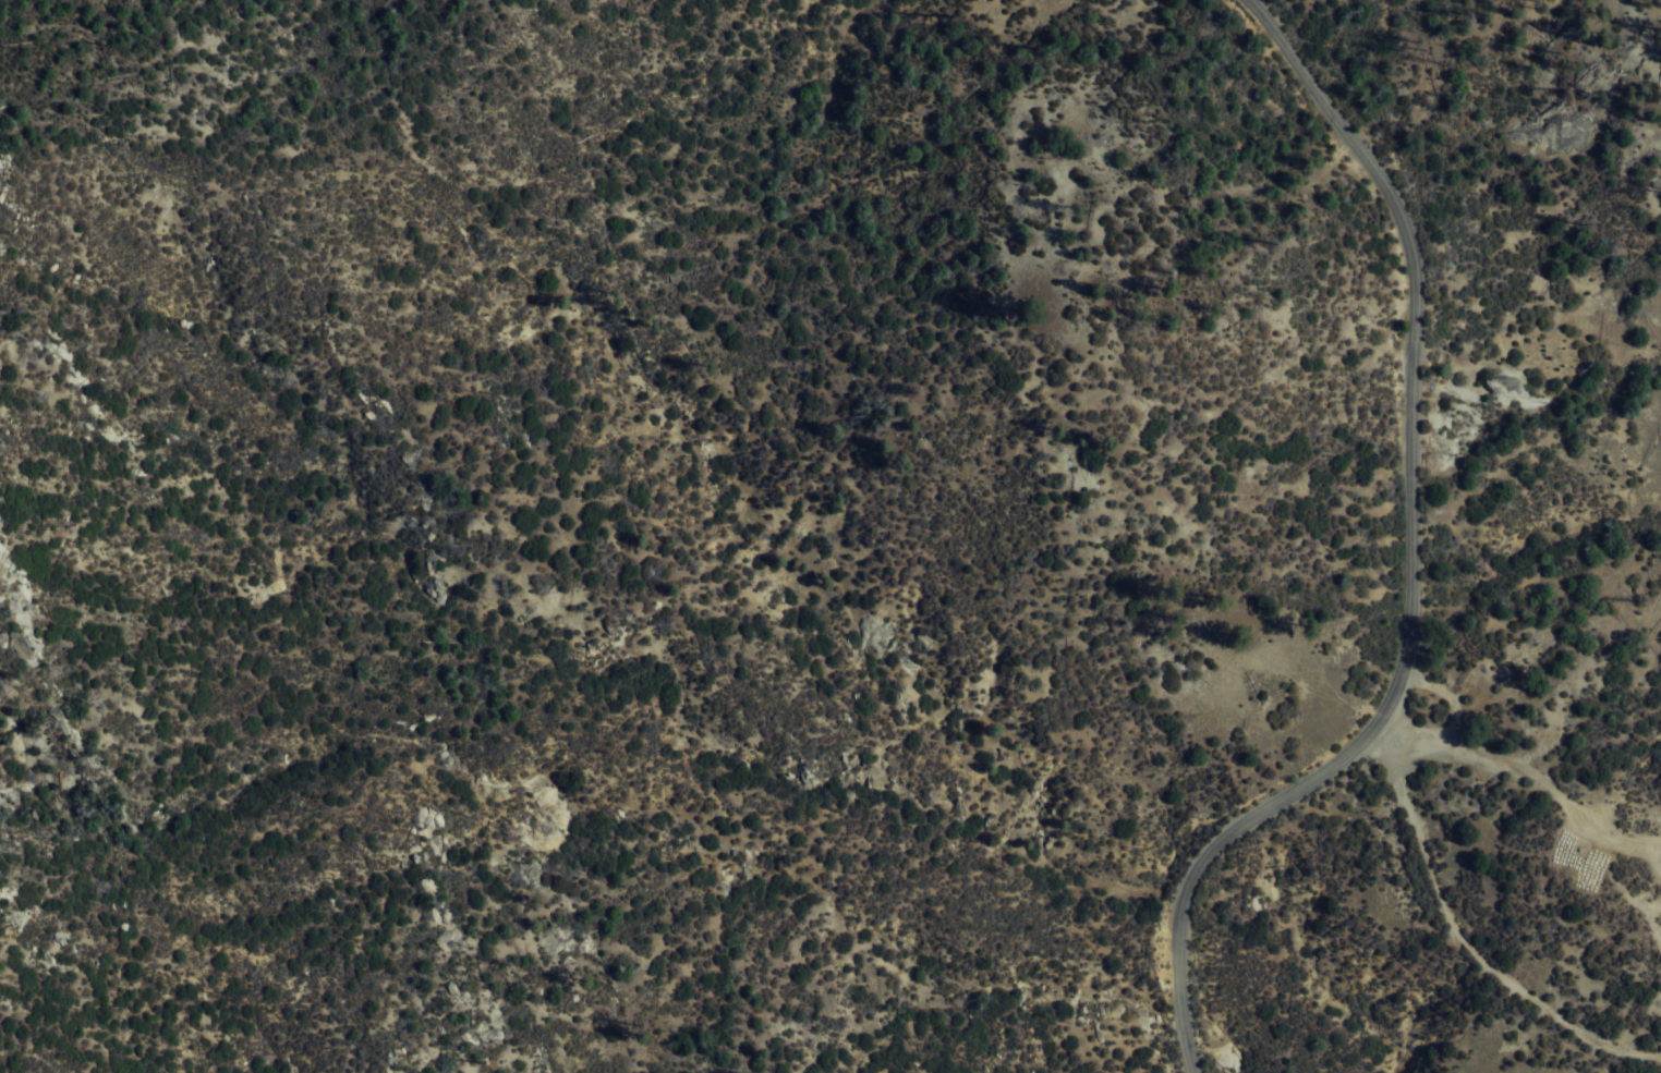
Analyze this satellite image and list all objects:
road: (1406, 561)

